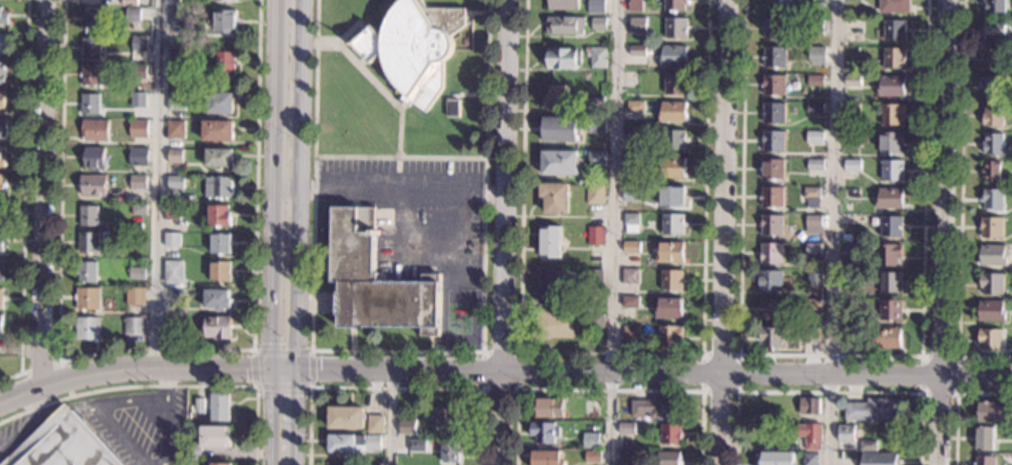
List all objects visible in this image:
building: (228, 0)
building: (129, 3)
building: (787, 4)
building: (561, 5)
building: (634, 5)
building: (675, 5)
building: (893, 6)
building: (994, 6)
building: (596, 7)
building: (799, 11)
road: (477, 12)
building: (134, 15)
building: (182, 16)
building: (95, 17)
building: (4, 18)
building: (224, 22)
building: (598, 24)
building: (564, 25)
building: (637, 25)
building: (814, 27)
building: (854, 27)
building: (675, 28)
building: (993, 29)
building: (774, 30)
building: (894, 30)
building: (139, 43)
road: (326, 43)
building: (3, 44)
building: (91, 46)
building: (413, 48)
building: (636, 51)
building: (648, 51)
building: (815, 55)
building: (673, 57)
building: (177, 58)
building: (560, 58)
building: (598, 58)
building: (773, 58)
building: (894, 58)
building: (990, 60)
building: (224, 64)
building: (137, 72)
building: (3, 74)
building: (94, 75)
road: (370, 78)
building: (814, 81)
building: (852, 81)
building: (674, 83)
building: (772, 86)
building: (890, 86)
building: (990, 87)
building: (602, 88)
road: (274, 95)
road: (301, 96)
building: (556, 98)
building: (2, 101)
building: (138, 101)
building: (176, 101)
building: (220, 102)
building: (90, 104)
building: (595, 104)
building: (453, 107)
building: (635, 107)
building: (814, 109)
building: (851, 109)
building: (672, 112)
building: (772, 113)
building: (891, 114)
building: (991, 116)
building: (596, 125)
building: (138, 128)
building: (3, 129)
building: (175, 129)
building: (560, 129)
building: (94, 130)
building: (217, 130)
building: (632, 135)
building: (814, 138)
building: (673, 140)
building: (851, 140)
building: (772, 141)
building: (890, 143)
building: (993, 145)
building: (2, 156)
building: (138, 156)
building: (174, 156)
road: (400, 156)
building: (93, 157)
building: (218, 157)
building: (595, 159)
building: (558, 163)
building: (632, 164)
building: (814, 165)
building: (851, 166)
building: (671, 169)
building: (771, 169)
building: (891, 171)
building: (990, 172)
building: (137, 182)
road: (158, 183)
building: (174, 183)
road: (433, 183)
building: (2, 185)
building: (92, 185)
building: (219, 188)
road: (286, 191)
road: (44, 192)
building: (811, 193)
road: (483, 194)
building: (630, 194)
building: (594, 195)
building: (670, 195)
road: (23, 197)
building: (554, 197)
building: (771, 197)
building: (889, 199)
building: (991, 200)
road: (959, 205)
building: (139, 209)
building: (172, 212)
building: (2, 213)
parking lot: (414, 214)
building: (88, 215)
building: (218, 215)
building: (384, 217)
road: (403, 221)
building: (630, 222)
building: (671, 224)
building: (770, 225)
building: (812, 225)
building: (890, 227)
building: (990, 229)
road: (505, 232)
road: (613, 232)
road: (722, 232)
road: (836, 232)
road: (944, 232)
building: (595, 236)
building: (172, 239)
building: (1, 242)
building: (549, 242)
building: (88, 243)
building: (220, 243)
building: (631, 248)
building: (669, 253)
building: (770, 254)
building: (813, 255)
building: (887, 255)
building: (849, 256)
building: (992, 256)
building: (1, 270)
building: (86, 272)
building: (220, 272)
building: (136, 273)
building: (174, 273)
building: (629, 276)
building: (813, 277)
road: (271, 278)
road: (298, 279)
building: (593, 280)
building: (670, 280)
building: (767, 280)
building: (376, 281)
building: (890, 284)
building: (990, 284)
building: (550, 286)
building: (0, 297)
building: (134, 297)
building: (87, 299)
building: (217, 300)
building: (629, 302)
building: (811, 305)
building: (669, 308)
building: (773, 309)
building: (890, 310)
building: (990, 311)
building: (594, 323)
building: (0, 324)
building: (170, 324)
building: (134, 326)
building: (554, 326)
building: (217, 327)
building: (87, 328)
building: (630, 333)
building: (810, 335)
building: (669, 336)
building: (769, 337)
building: (848, 337)
building: (887, 339)
building: (988, 339)
road: (152, 348)
building: (819, 348)
road: (308, 351)
road: (397, 351)
road: (517, 353)
road: (611, 354)
road: (738, 356)
road: (830, 356)
road: (922, 357)
road: (59, 360)
road: (283, 366)
road: (132, 368)
road: (654, 370)
road: (166, 383)
road: (165, 385)
road: (396, 388)
road: (608, 389)
road: (828, 392)
road: (128, 399)
road: (955, 401)
building: (808, 405)
building: (200, 406)
building: (546, 407)
building: (220, 408)
building: (656, 408)
building: (873, 410)
building: (993, 411)
road: (269, 415)
road: (295, 415)
road: (391, 416)
building: (345, 417)
building: (442, 417)
road: (28, 421)
building: (374, 421)
building: (406, 427)
building: (626, 427)
building: (543, 431)
building: (670, 432)
building: (844, 434)
building: (810, 435)
building: (214, 437)
building: (983, 437)
building: (590, 440)
building: (352, 441)
building: (64, 444)
parking garage: (64, 444)
building: (415, 445)
building: (866, 446)
building: (448, 450)
building: (194, 452)
building: (626, 456)
building: (592, 457)
building: (546, 458)
building: (668, 458)
building: (774, 458)
building: (809, 459)
building: (878, 459)
building: (984, 461)
building: (218, 464)
building: (371, 464)

